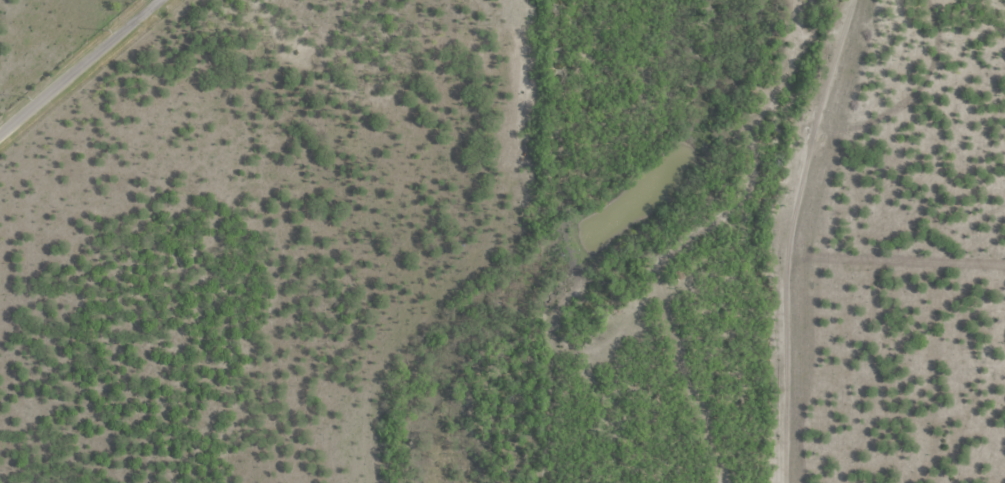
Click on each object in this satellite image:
road: (78, 65)

